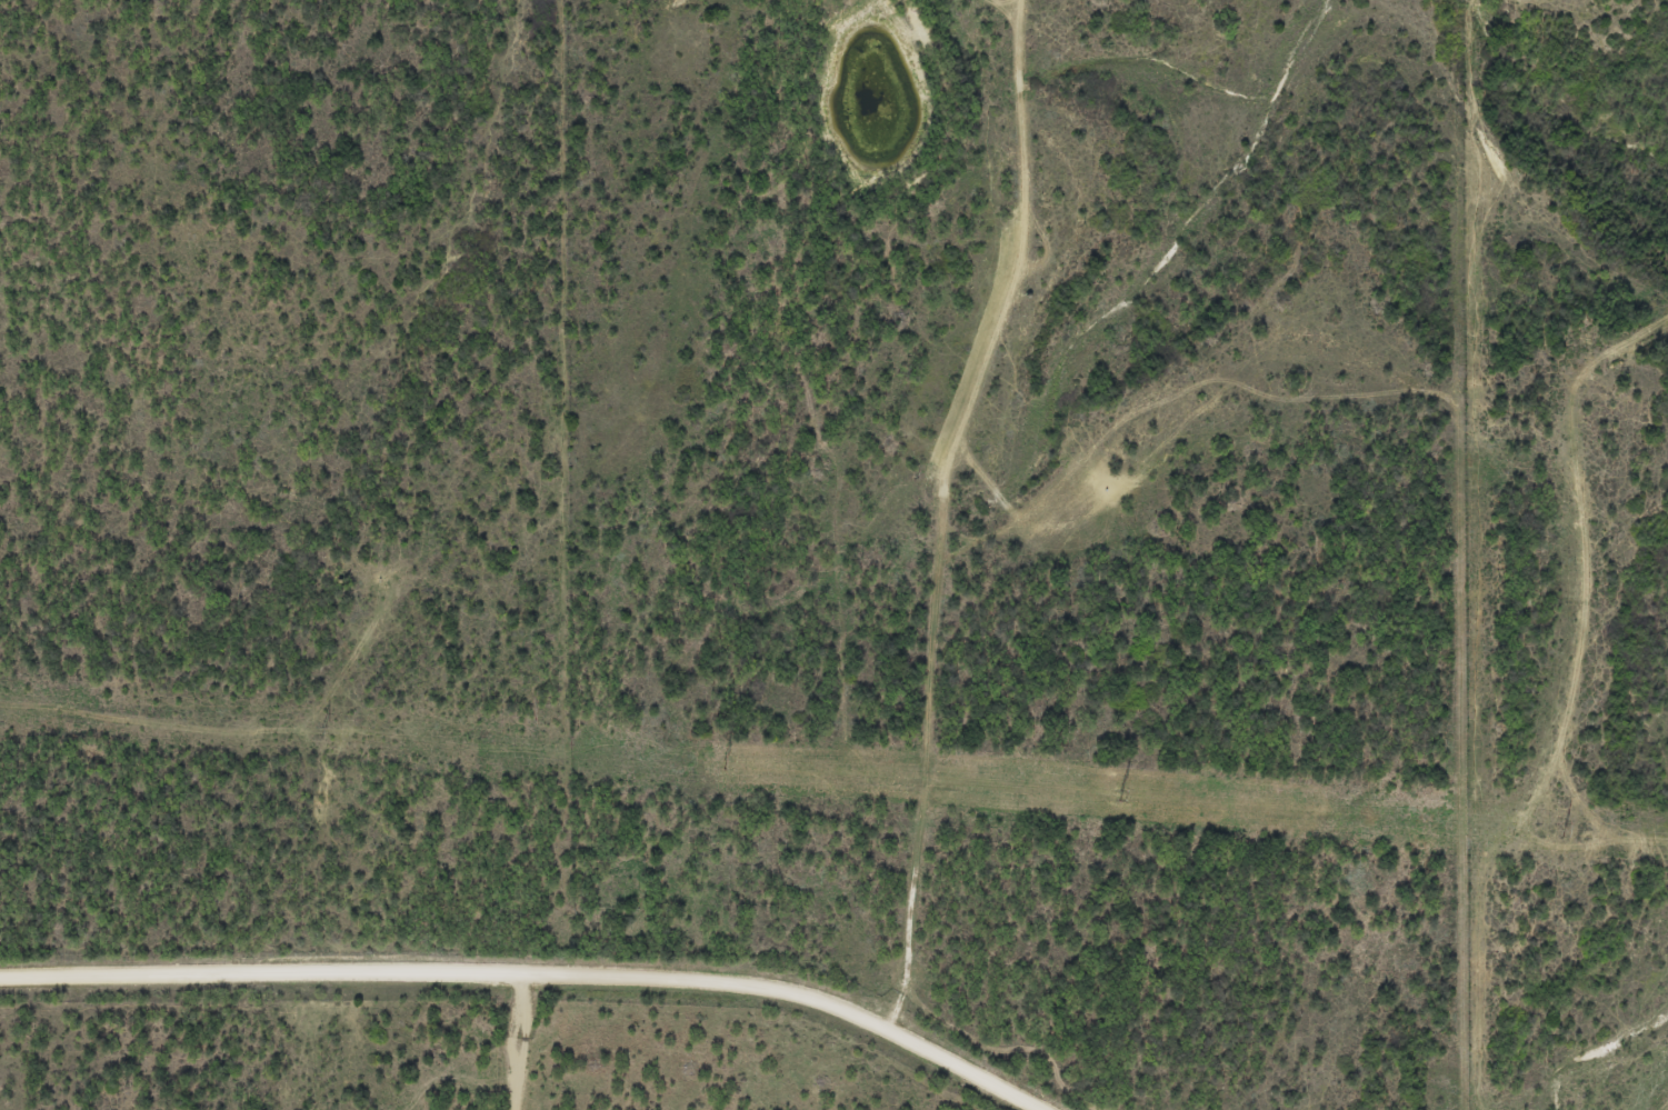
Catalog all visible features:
power tower: (322, 732)
power tower: (723, 764)
power tower: (1120, 796)
power tower: (1562, 831)
road: (522, 981)
road: (510, 1044)

